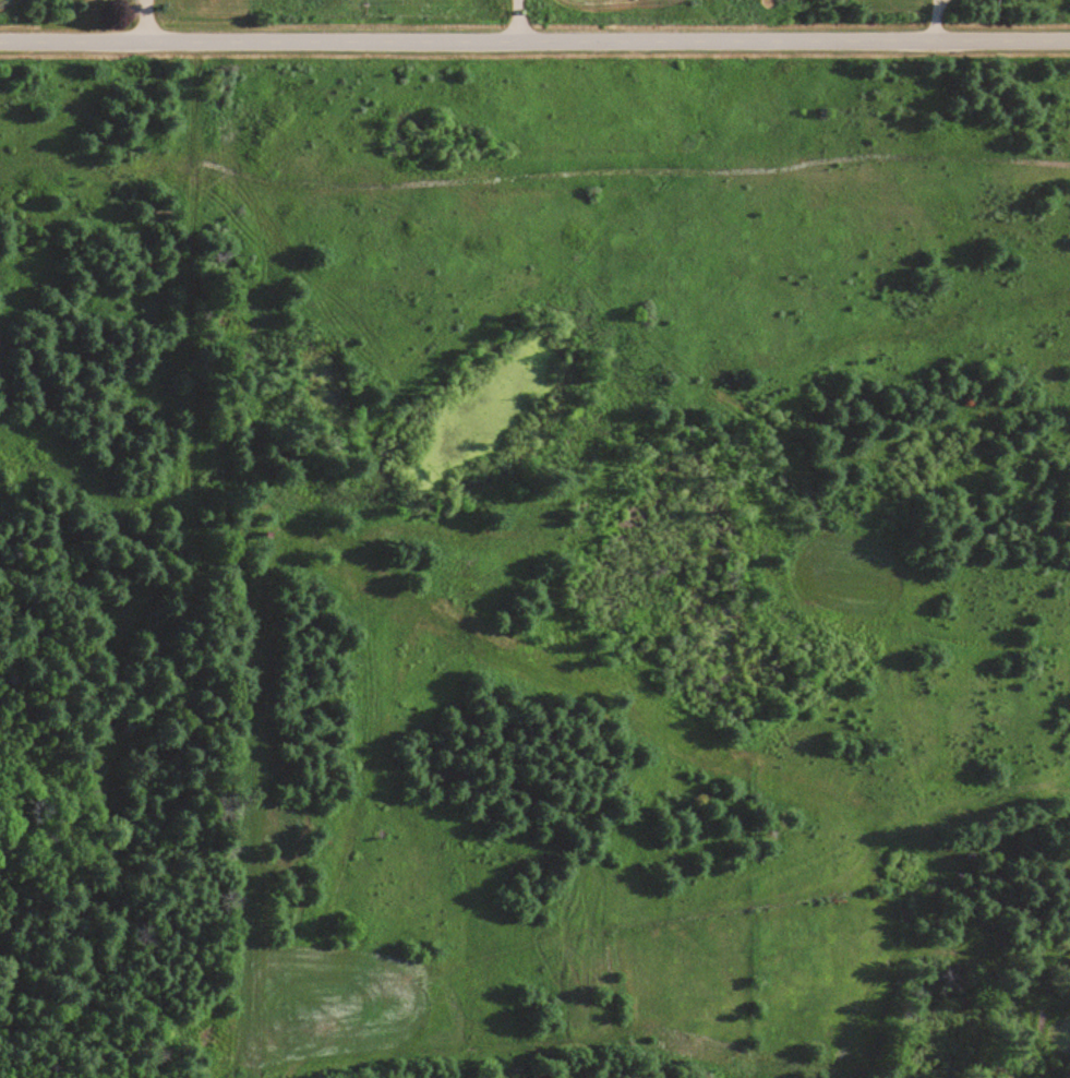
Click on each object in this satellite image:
road: (534, 38)

